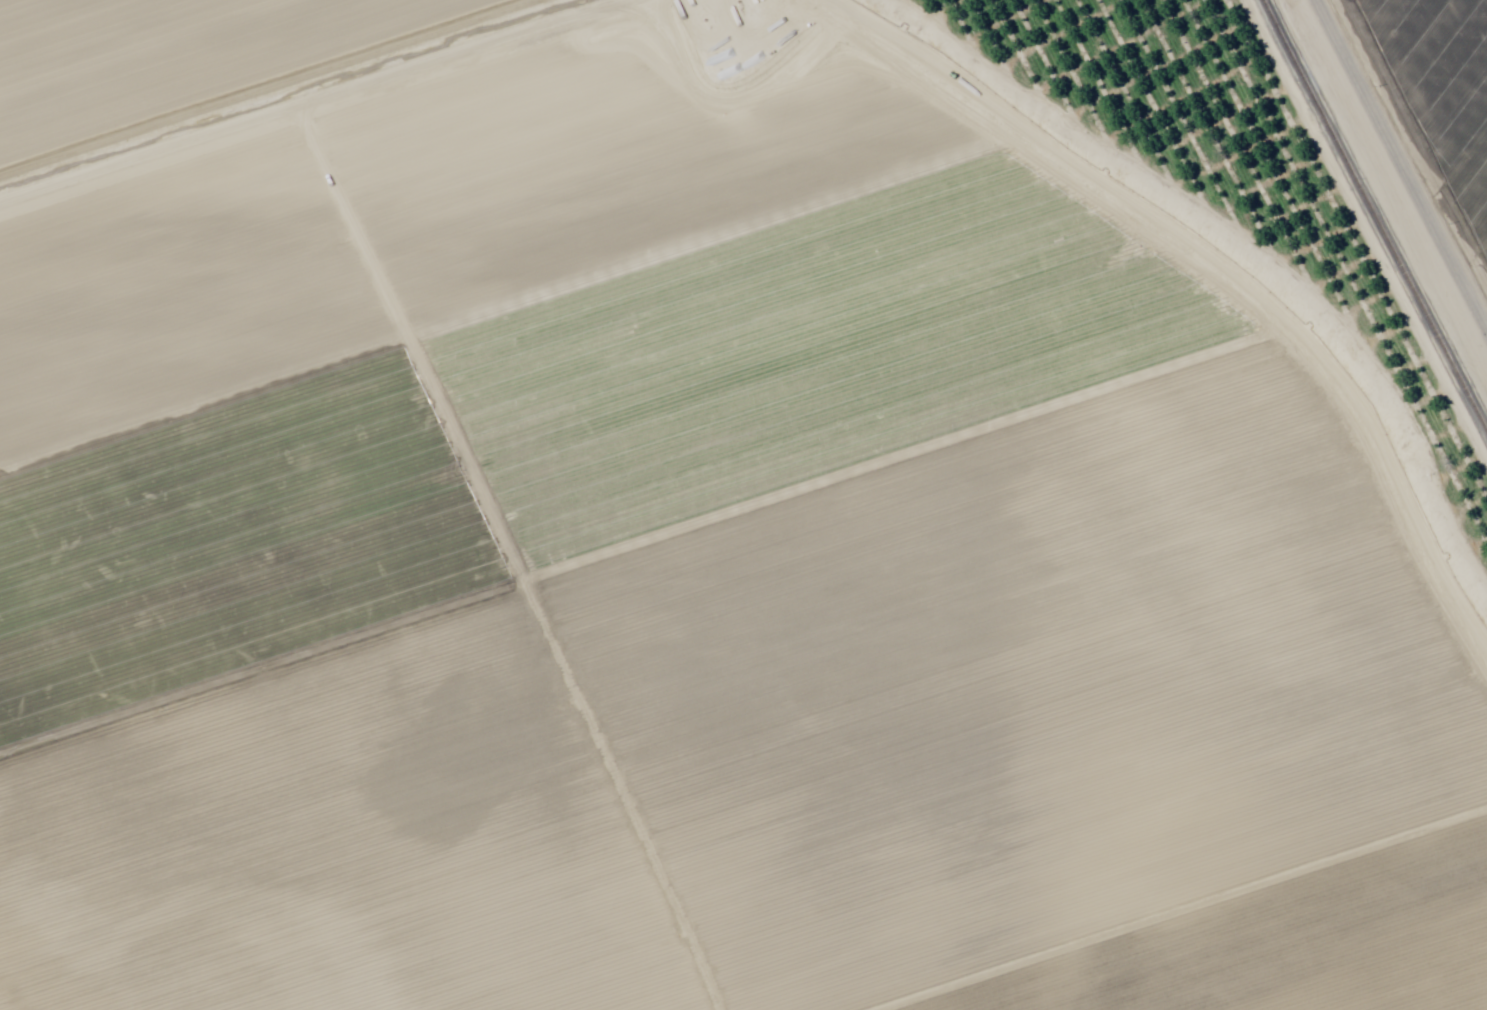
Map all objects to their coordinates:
crop: (1442, 87)
road: (1420, 140)
railway: (1375, 216)
crop: (678, 543)

